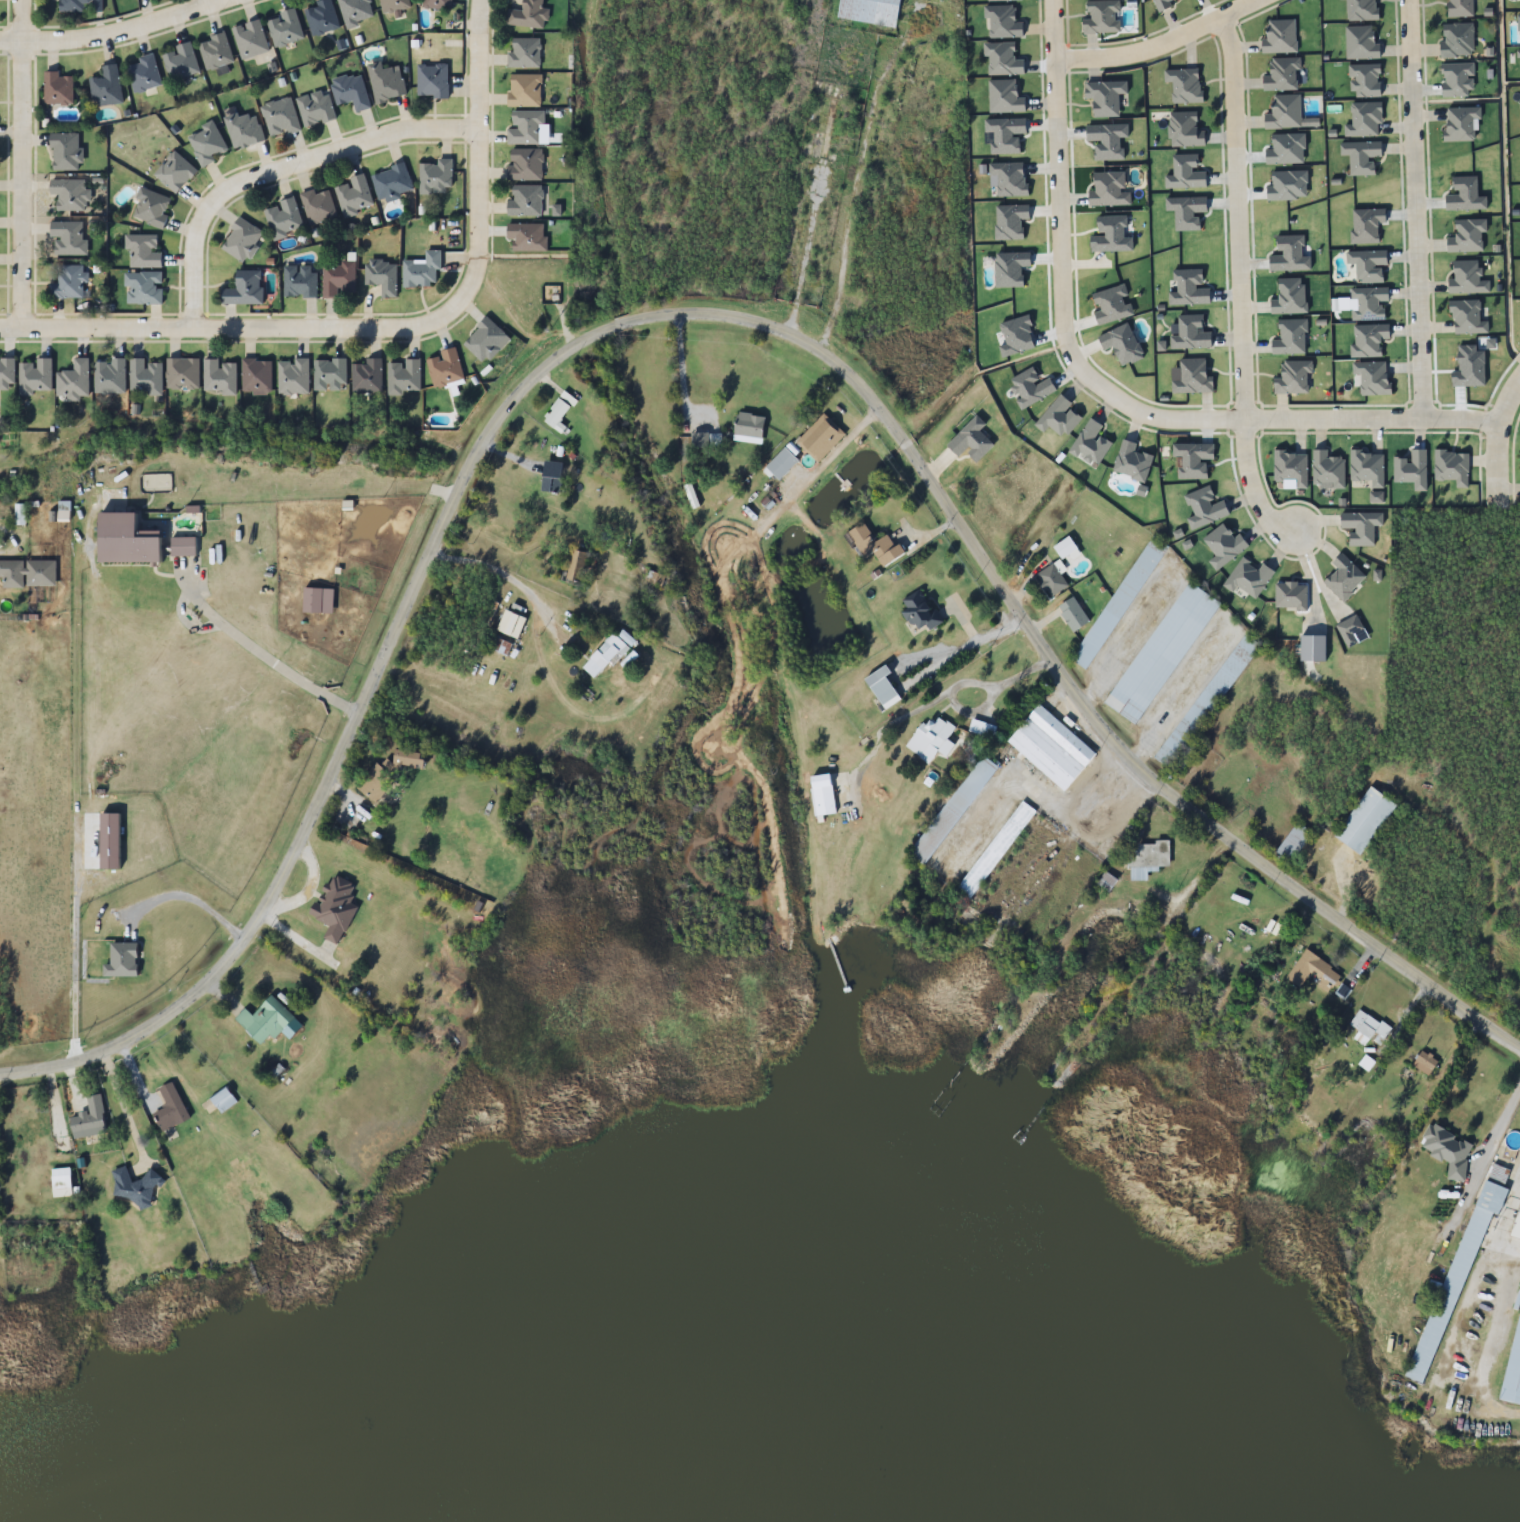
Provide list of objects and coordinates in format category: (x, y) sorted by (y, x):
building: (1003, 0)
road: (214, 4)
building: (438, 4)
building: (1161, 4)
building: (74, 5)
building: (394, 5)
building: (871, 8)
building: (1460, 8)
building: (1360, 10)
building: (356, 11)
building: (528, 15)
building: (320, 17)
building: (1101, 17)
building: (1002, 22)
building: (285, 28)
building: (1281, 32)
road: (122, 35)
building: (251, 39)
building: (1457, 40)
building: (1360, 43)
road: (1164, 45)
building: (215, 51)
building: (524, 53)
building: (1002, 59)
building: (181, 62)
building: (144, 74)
building: (1282, 75)
building: (433, 81)
building: (386, 82)
building: (1184, 85)
building: (106, 87)
building: (58, 89)
building: (351, 91)
building: (524, 91)
building: (1004, 97)
building: (1105, 97)
building: (316, 109)
building: (1283, 113)
building: (280, 117)
building: (525, 128)
building: (244, 129)
building: (1184, 130)
building: (207, 144)
building: (66, 152)
road: (15, 164)
building: (525, 164)
road: (272, 167)
building: (175, 172)
building: (436, 177)
building: (392, 183)
building: (70, 194)
building: (354, 196)
building: (524, 201)
building: (317, 206)
building: (151, 208)
road: (1419, 214)
building: (283, 218)
road: (1236, 225)
building: (526, 236)
building: (69, 237)
building: (242, 240)
building: (144, 251)
building: (423, 271)
building: (383, 276)
building: (338, 279)
building: (69, 282)
building: (300, 282)
road: (8, 288)
building: (144, 288)
building: (245, 289)
road: (708, 315)
road: (386, 330)
building: (487, 341)
building: (445, 368)
building: (7, 374)
building: (183, 374)
building: (257, 375)
building: (330, 375)
building: (109, 376)
building: (146, 376)
building: (293, 376)
building: (36, 377)
building: (220, 377)
building: (367, 377)
building: (404, 377)
building: (74, 380)
road: (1096, 394)
building: (556, 413)
building: (750, 416)
building: (820, 430)
building: (974, 433)
building: (708, 435)
road: (1495, 438)
building: (784, 454)
building: (551, 478)
building: (692, 489)
road: (1252, 490)
building: (875, 537)
building: (130, 541)
building: (184, 547)
building: (1065, 547)
building: (577, 566)
building: (28, 572)
building: (1051, 575)
building: (1118, 597)
building: (920, 602)
building: (1074, 606)
building: (511, 625)
building: (1165, 646)
building: (500, 647)
building: (608, 653)
building: (883, 679)
building: (1208, 695)
building: (982, 721)
building: (931, 735)
building: (1052, 740)
building: (407, 758)
building: (374, 783)
building: (823, 789)
building: (952, 805)
building: (1366, 813)
building: (1295, 836)
building: (997, 842)
building: (1148, 851)
building: (1107, 875)
building: (367, 898)
building: (314, 910)
building: (121, 960)
building: (1315, 965)
building: (1343, 992)
building: (264, 1020)
building: (1368, 1022)
building: (1365, 1056)
building: (1427, 1057)
building: (223, 1101)
building: (170, 1108)
building: (89, 1120)
building: (1447, 1144)
building: (61, 1182)
building: (135, 1187)
building: (1516, 1218)
building: (1459, 1261)
building: (1512, 1364)

